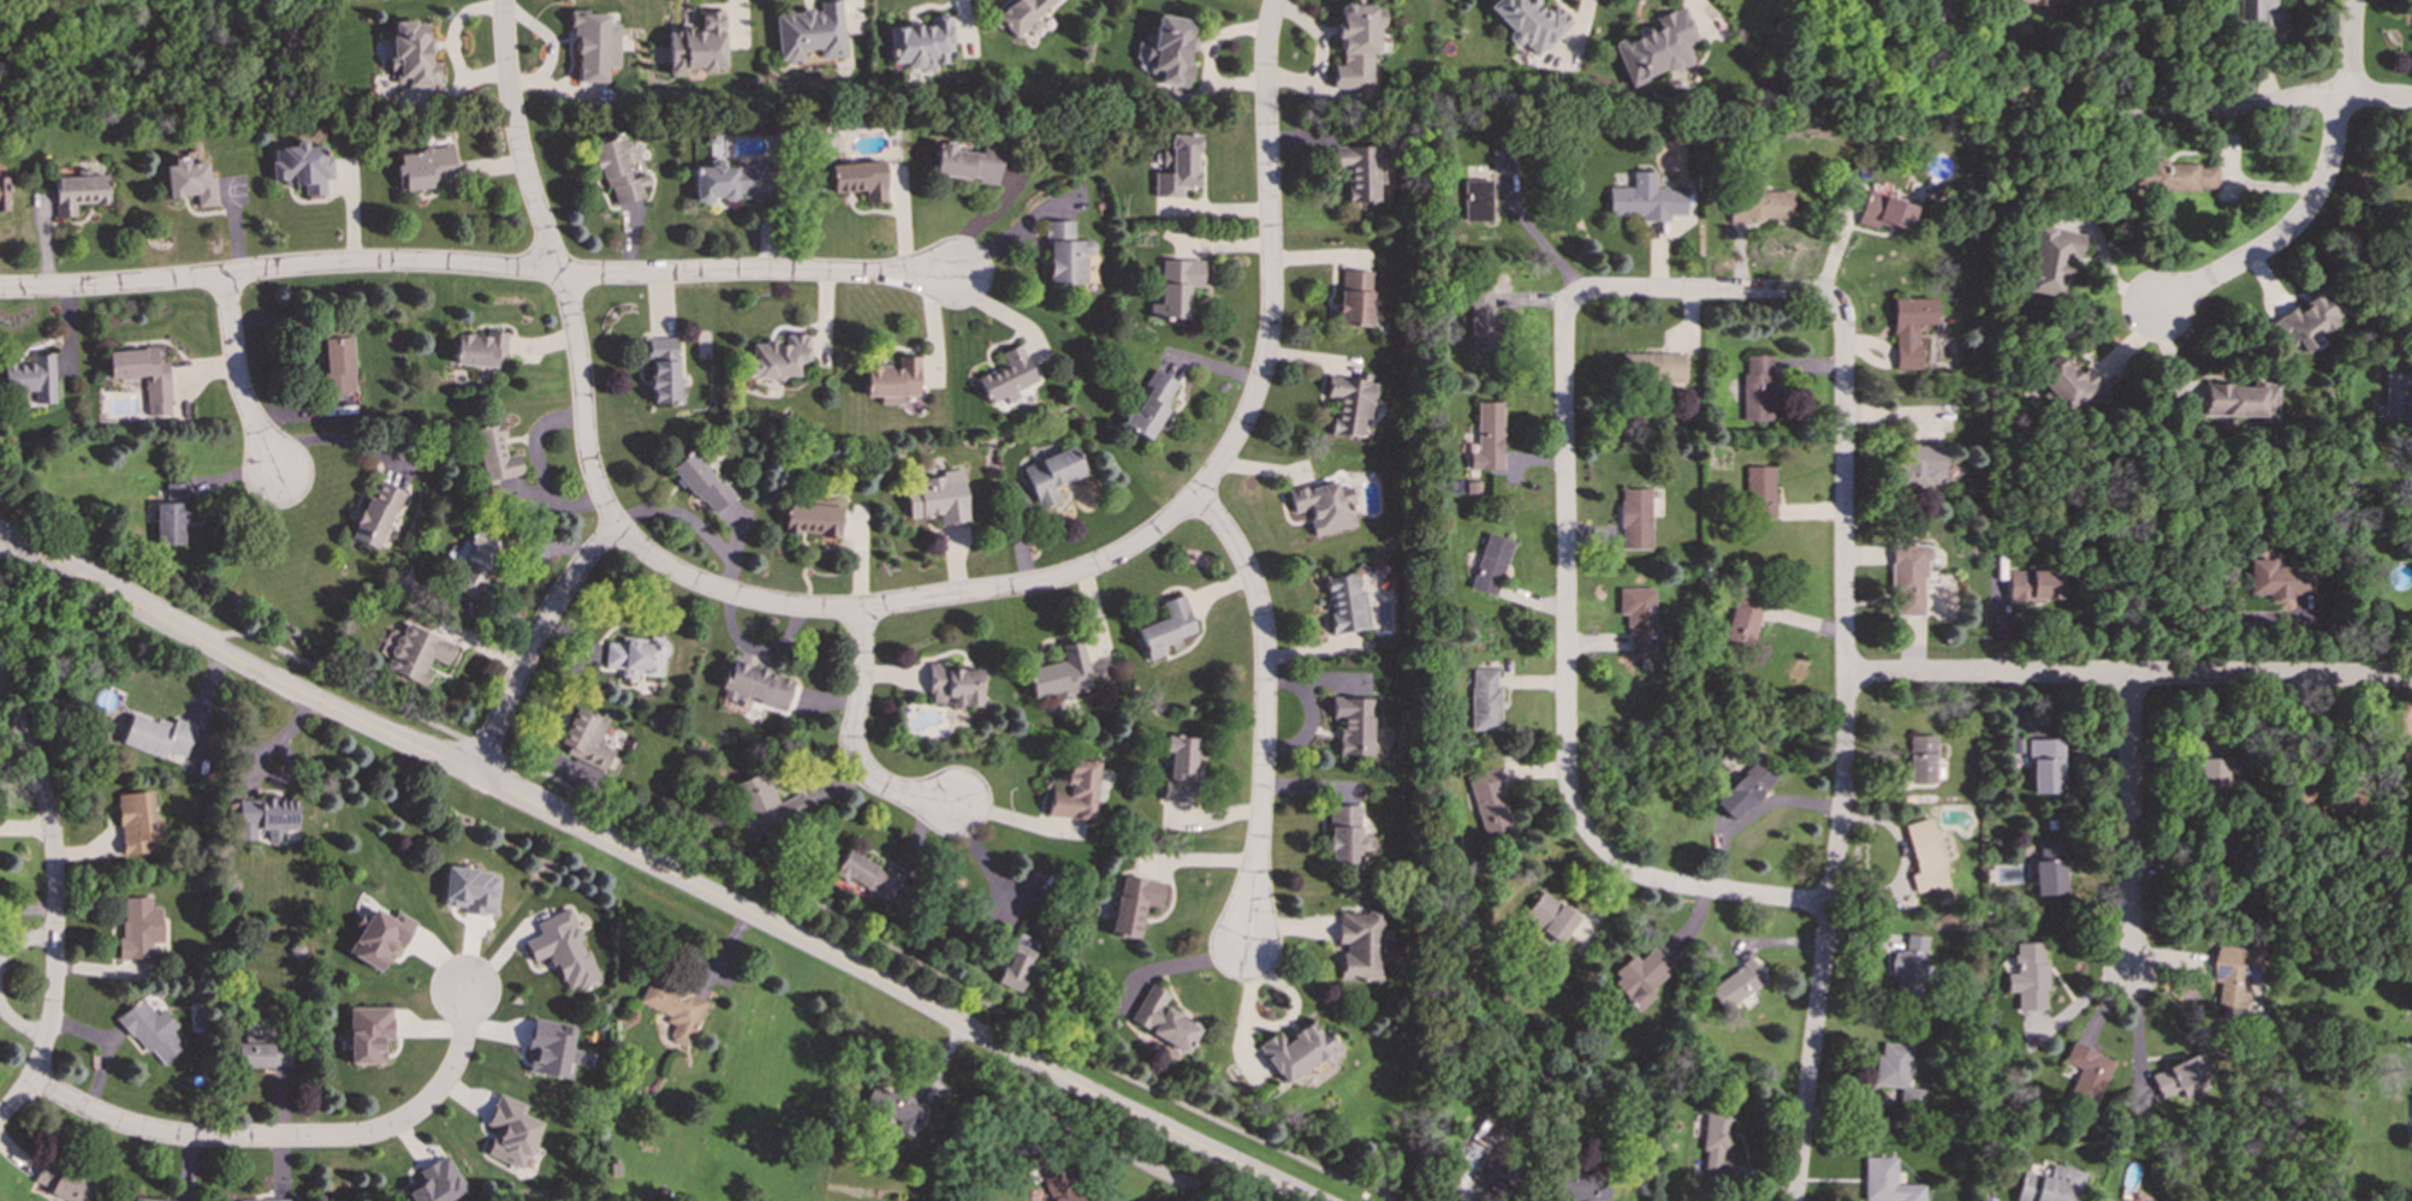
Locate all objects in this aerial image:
building: (2042, 1)
building: (2259, 12)
building: (1531, 22)
road: (452, 43)
building: (921, 43)
building: (1356, 44)
building: (701, 46)
road: (2351, 46)
building: (595, 47)
building: (1658, 47)
building: (1170, 49)
building: (411, 54)
road: (1956, 55)
park: (143, 57)
road: (2092, 57)
road: (2111, 114)
building: (1503, 161)
building: (967, 163)
building: (302, 166)
building: (1176, 166)
building: (426, 167)
building: (617, 171)
building: (1358, 172)
building: (2176, 176)
building: (190, 179)
building: (859, 179)
building: (729, 180)
building: (78, 192)
building: (2, 195)
building: (1645, 200)
building: (1478, 201)
building: (1759, 206)
building: (1884, 212)
road: (2285, 230)
building: (1064, 254)
road: (1269, 257)
building: (2052, 258)
road: (554, 266)
road: (278, 268)
road: (758, 270)
building: (1175, 287)
road: (1701, 290)
building: (1355, 298)
building: (2309, 319)
building: (1909, 329)
building: (480, 349)
building: (779, 357)
building: (1653, 368)
building: (663, 370)
building: (143, 375)
building: (31, 376)
building: (339, 376)
building: (1006, 376)
road: (237, 377)
building: (893, 381)
building: (2067, 384)
building: (1757, 388)
building: (2398, 396)
building: (2239, 400)
building: (1151, 404)
building: (1489, 438)
road: (339, 440)
building: (493, 453)
building: (1919, 465)
building: (1051, 474)
building: (701, 483)
building: (1759, 490)
building: (939, 501)
building: (1325, 507)
building: (376, 515)
building: (172, 516)
building: (812, 518)
building: (1634, 518)
building: (1491, 564)
building: (476, 565)
building: (1908, 577)
building: (2275, 583)
building: (2033, 585)
road: (908, 602)
building: (1347, 605)
building: (1638, 618)
building: (1741, 622)
building: (1168, 628)
road: (534, 642)
building: (416, 654)
building: (636, 656)
building: (1062, 673)
road: (2127, 674)
building: (755, 684)
building: (956, 686)
road: (1566, 698)
building: (1485, 700)
road: (1265, 708)
building: (1354, 725)
building: (158, 737)
building: (586, 739)
road: (852, 739)
road: (1844, 754)
building: (1920, 759)
building: (2044, 766)
building: (1180, 768)
building: (2212, 768)
building: (1076, 791)
building: (1745, 791)
building: (1487, 801)
building: (764, 805)
building: (265, 815)
road: (49, 822)
building: (137, 825)
building: (1344, 837)
road: (2129, 838)
road: (693, 846)
building: (1925, 857)
road: (655, 867)
building: (2048, 867)
building: (867, 875)
building: (470, 890)
building: (1134, 904)
road: (28, 910)
building: (1550, 916)
building: (138, 928)
building: (380, 938)
road: (23, 941)
building: (1359, 945)
building: (563, 950)
building: (1017, 962)
building: (1908, 969)
building: (2234, 974)
building: (2027, 976)
building: (1641, 977)
building: (1739, 983)
road: (2079, 1001)
building: (675, 1007)
building: (1162, 1019)
road: (19, 1023)
building: (150, 1030)
building: (368, 1034)
road: (107, 1047)
building: (552, 1050)
building: (1296, 1051)
road: (41, 1053)
building: (2087, 1071)
building: (1897, 1072)
building: (2180, 1076)
building: (893, 1108)
building: (513, 1132)
road: (292, 1136)
building: (1718, 1142)
road: (1118, 1148)
building: (64, 1182)
building: (438, 1182)
building: (1888, 1182)
building: (1059, 1183)
building: (2049, 1184)
building: (1581, 1187)
building: (152, 1200)

